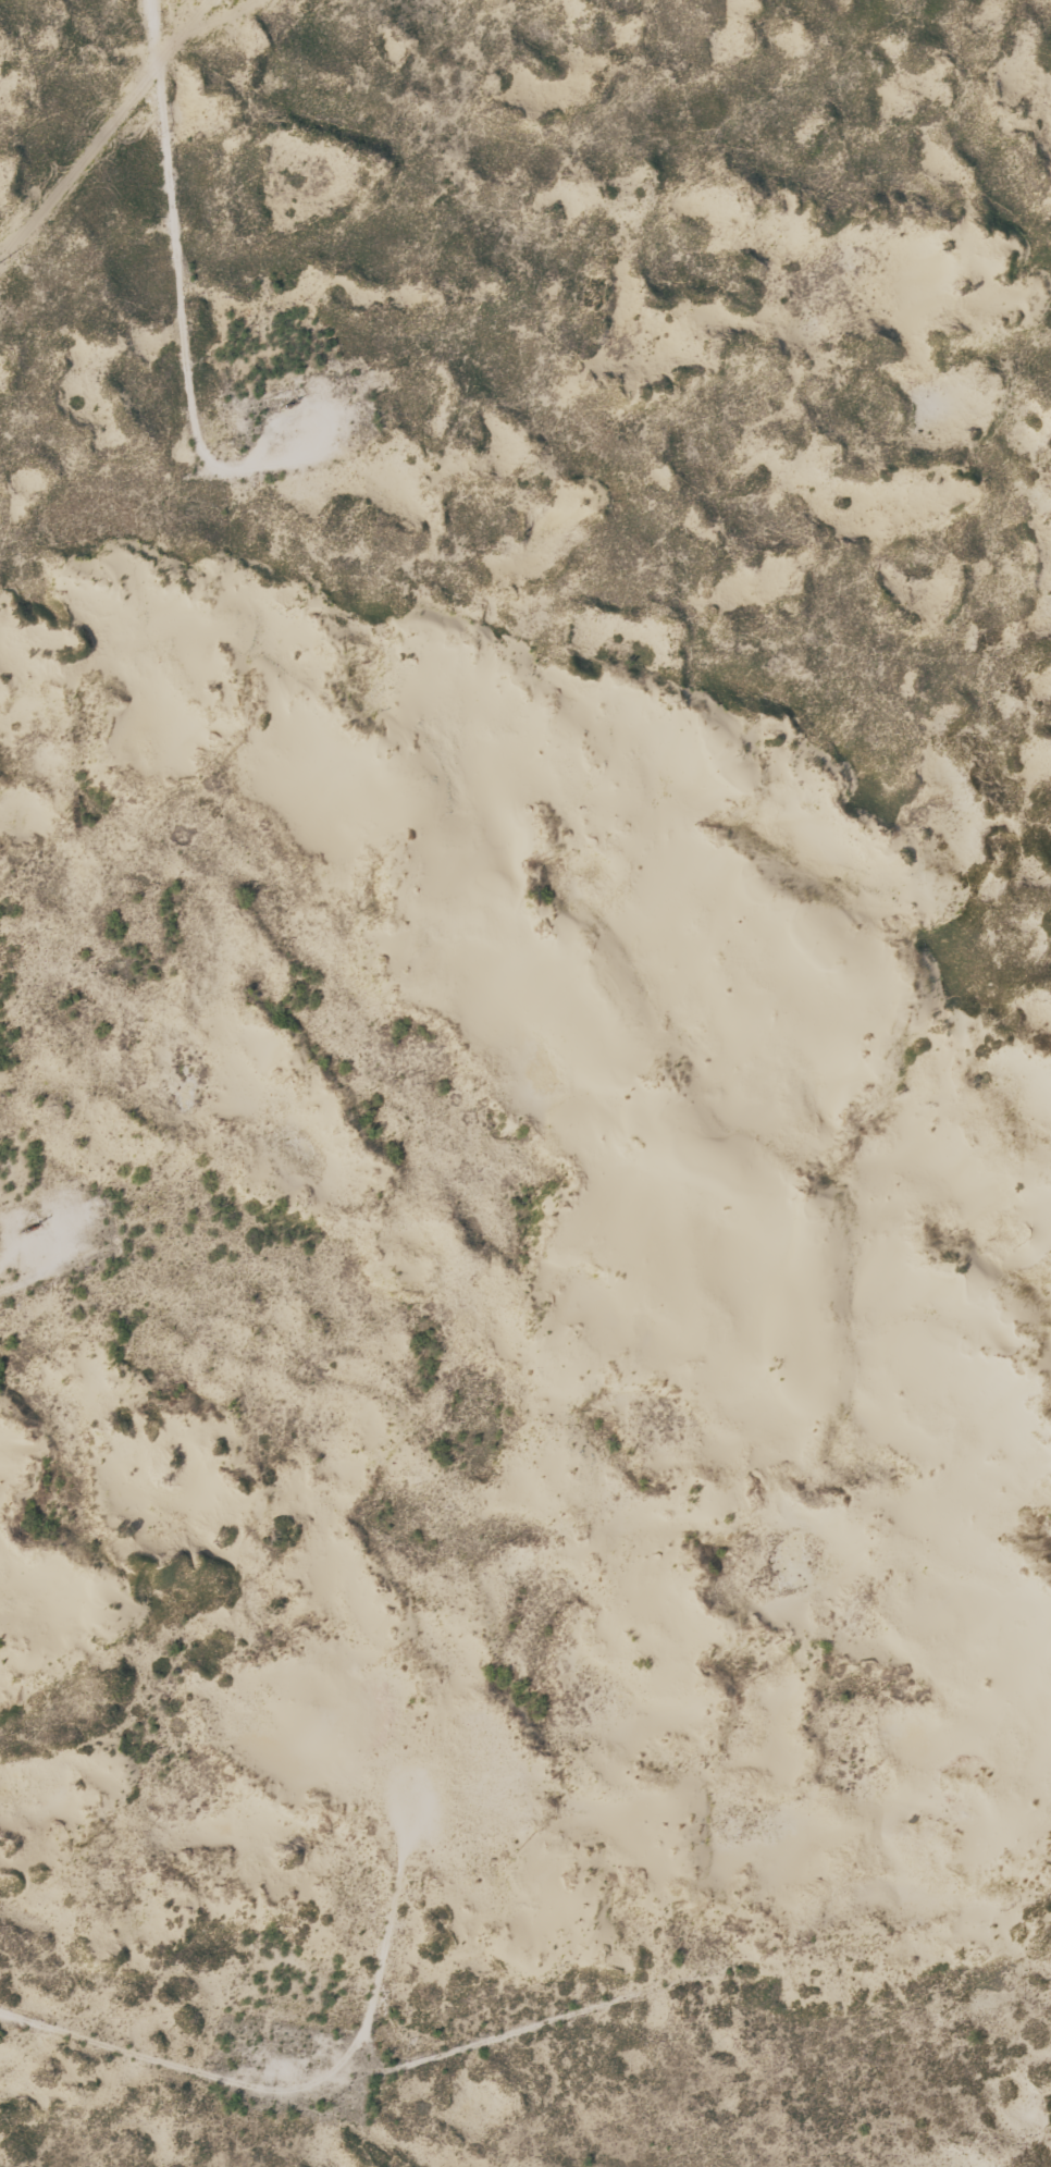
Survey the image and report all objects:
power tower: (219, 5)

